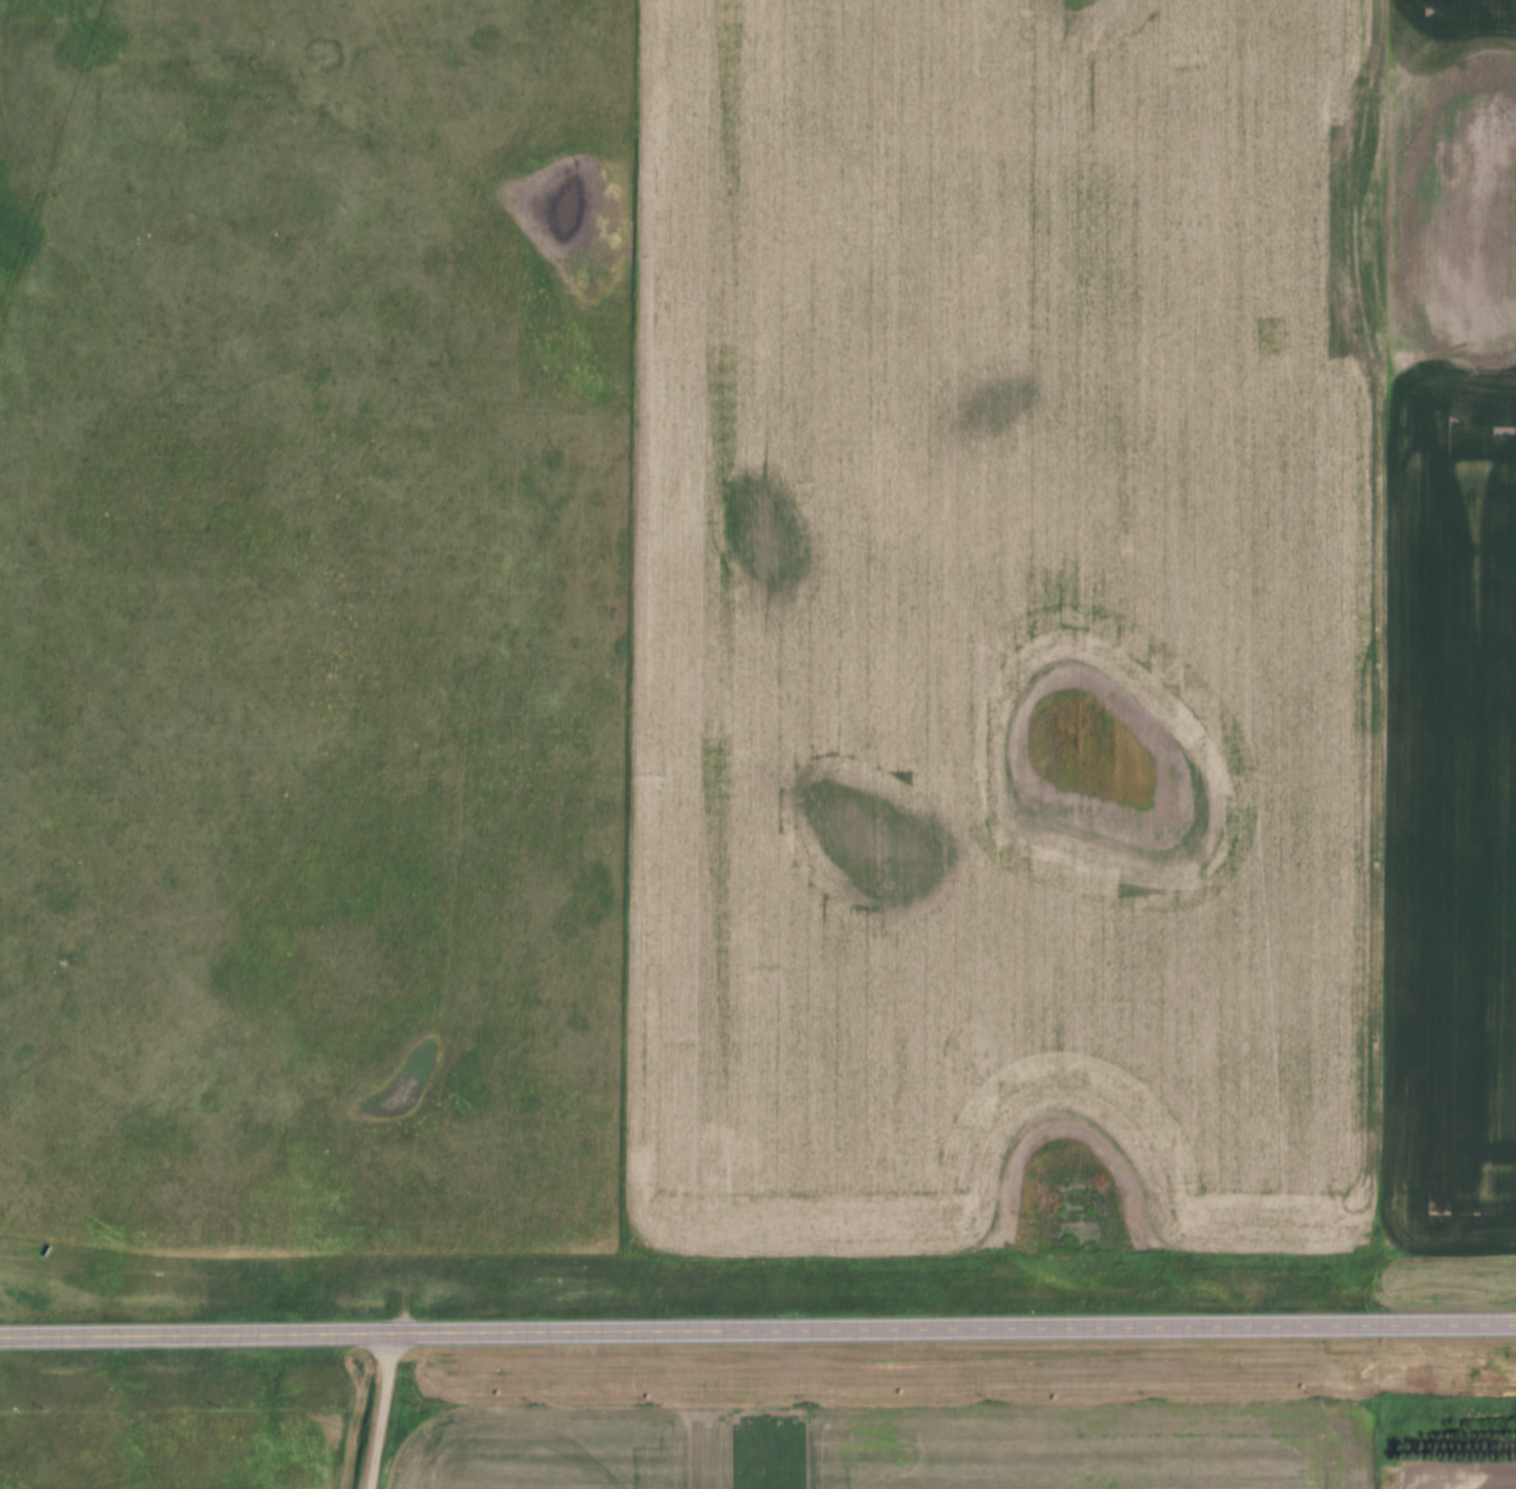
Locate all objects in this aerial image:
road: (757, 1329)
road: (384, 1411)

